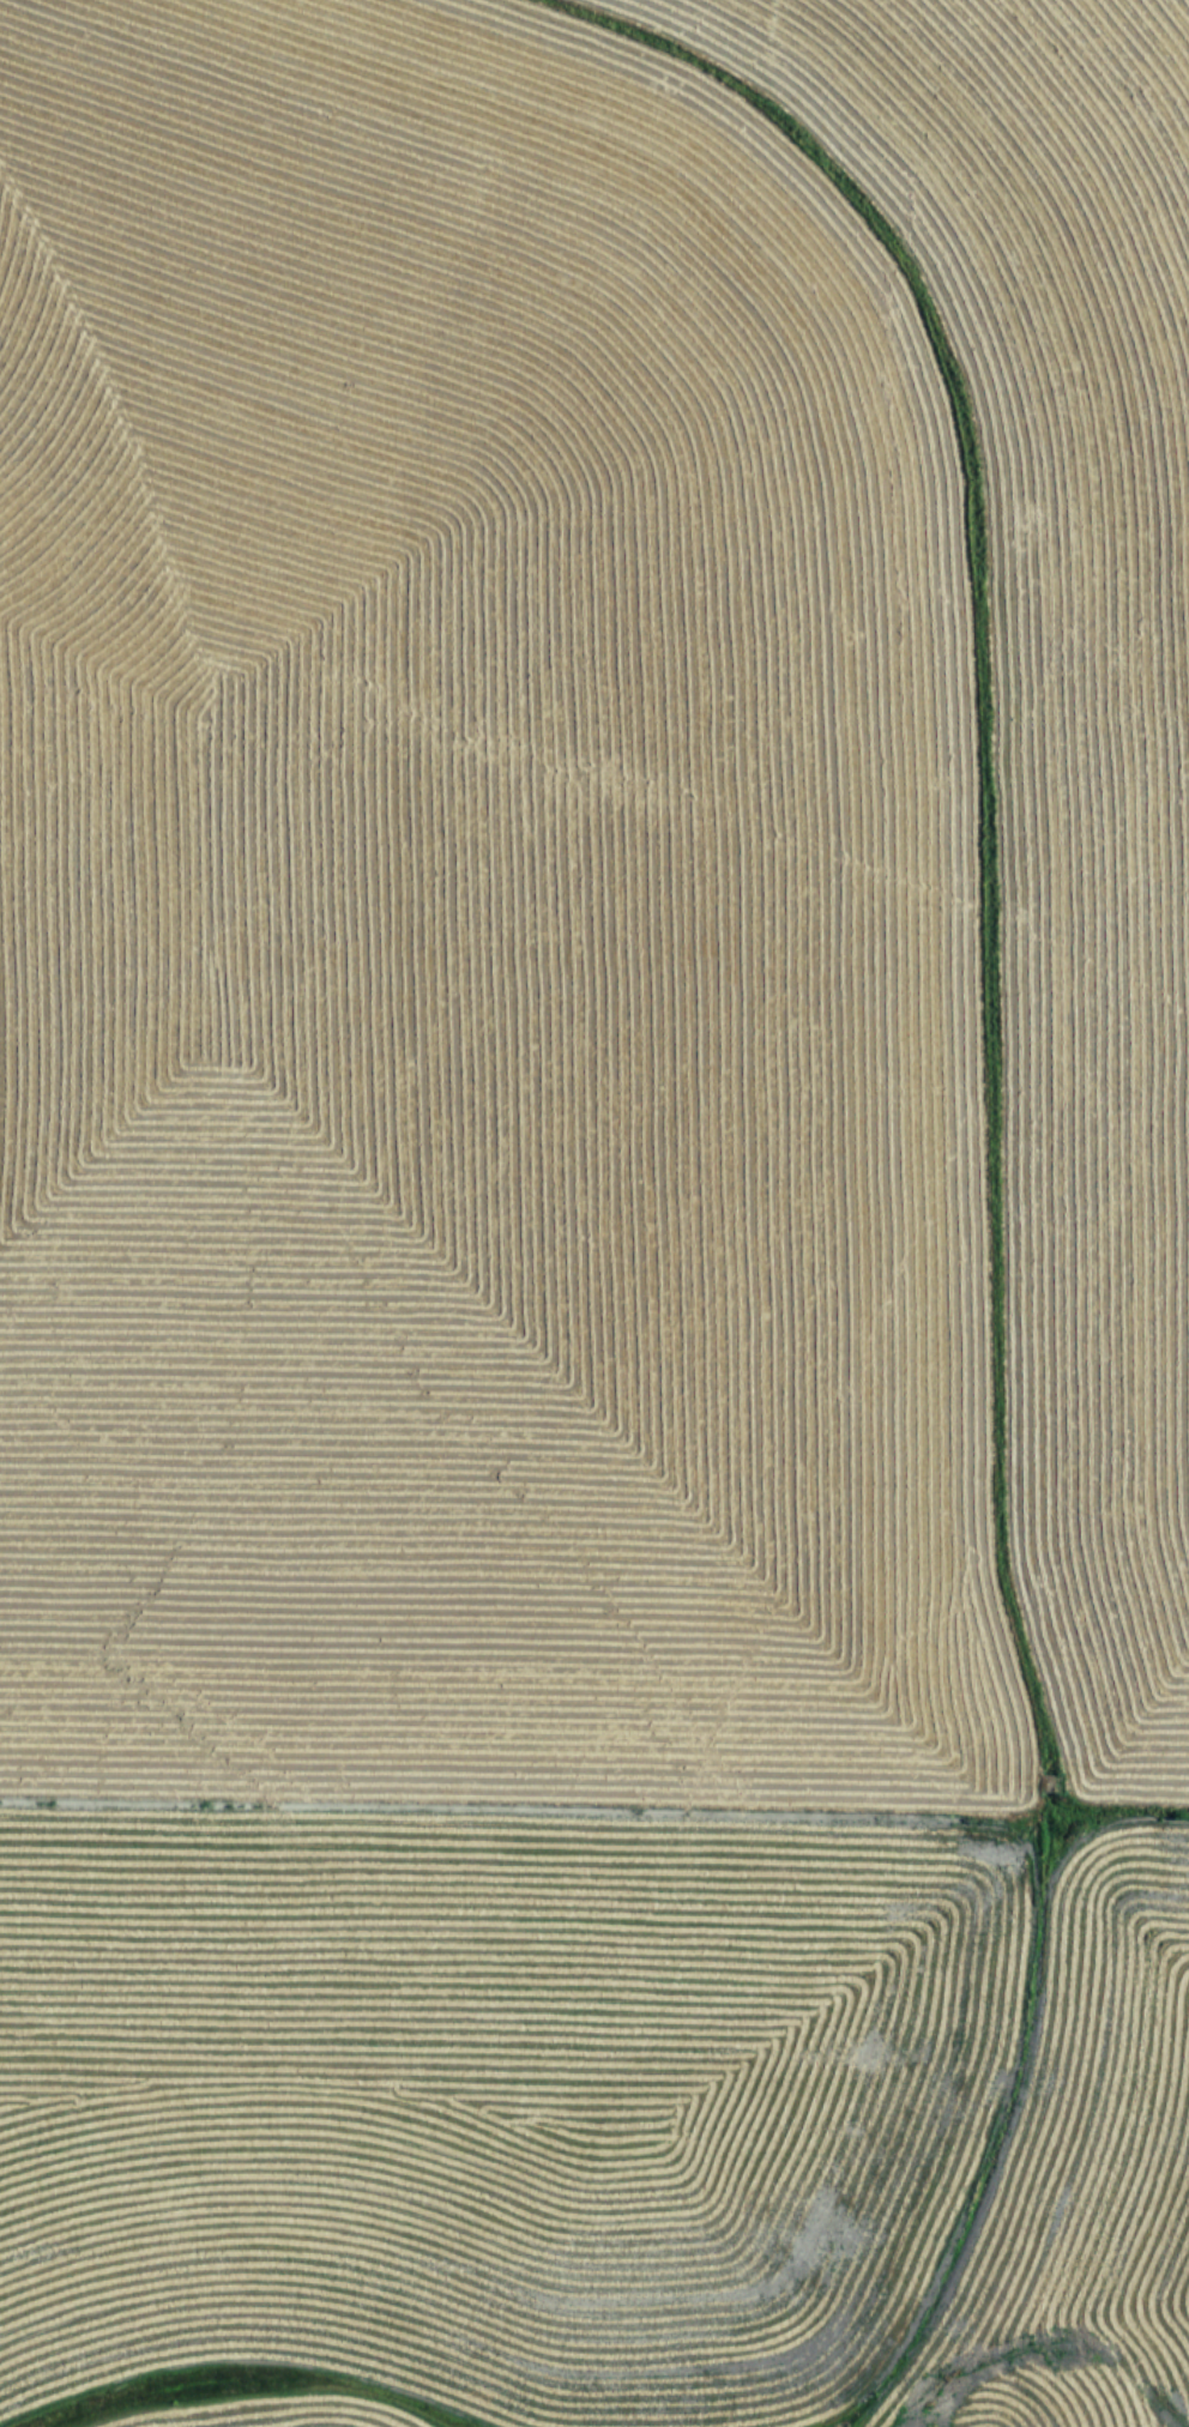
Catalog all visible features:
crop: (594, 1213)

